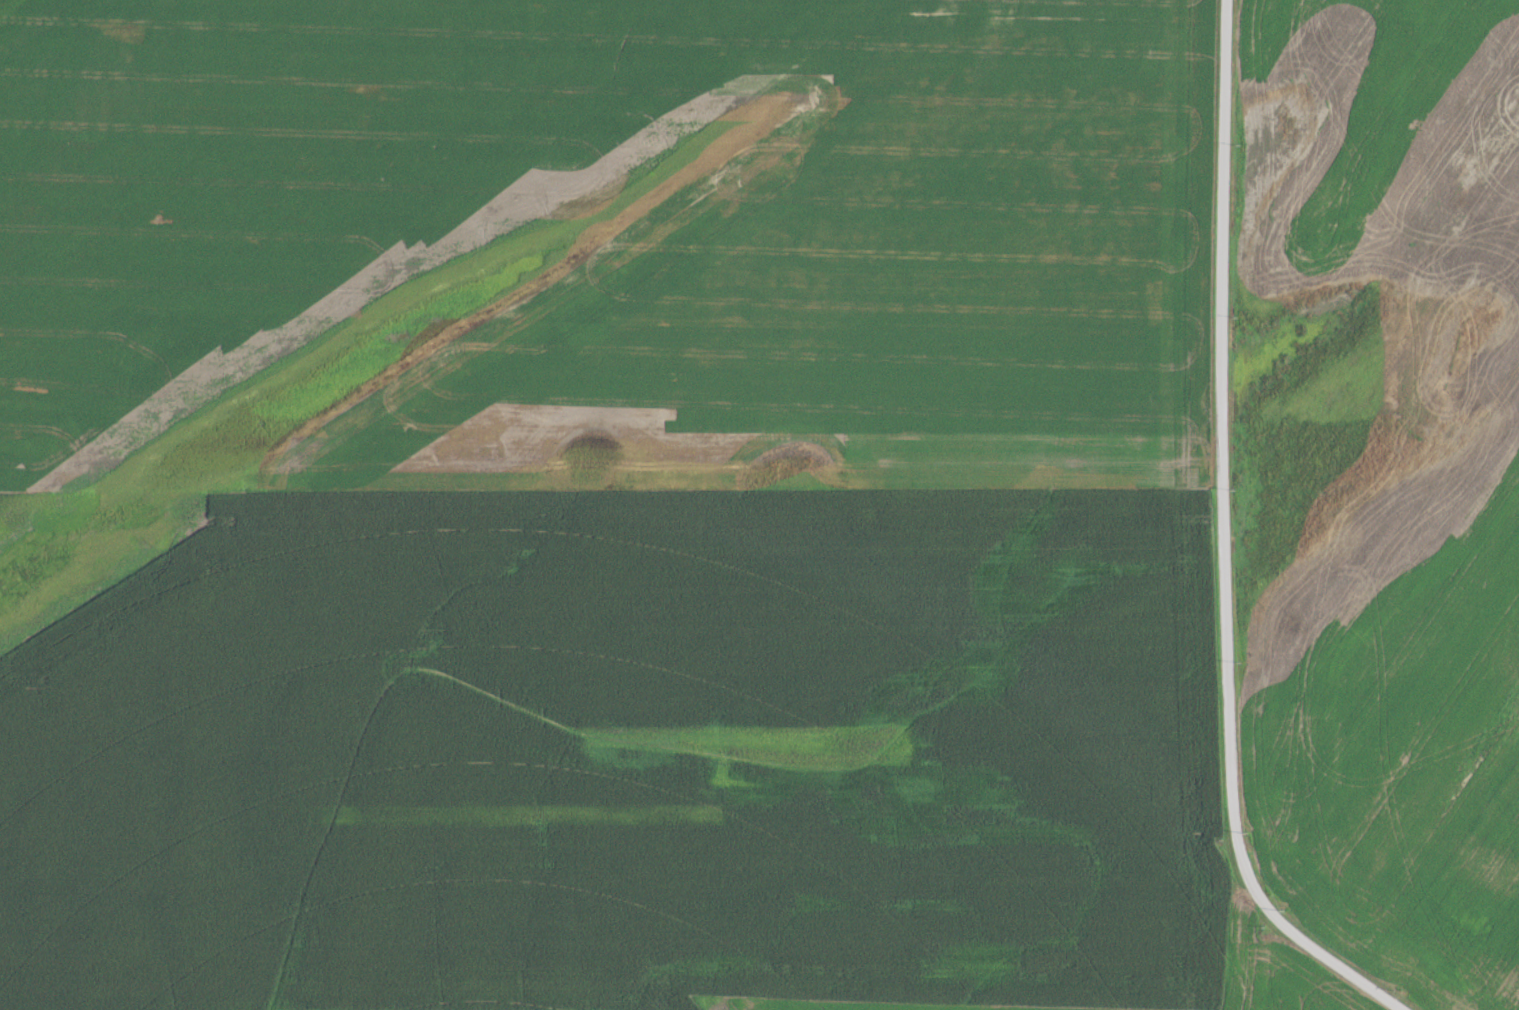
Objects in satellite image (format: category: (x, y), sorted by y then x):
road: (1222, 541)

